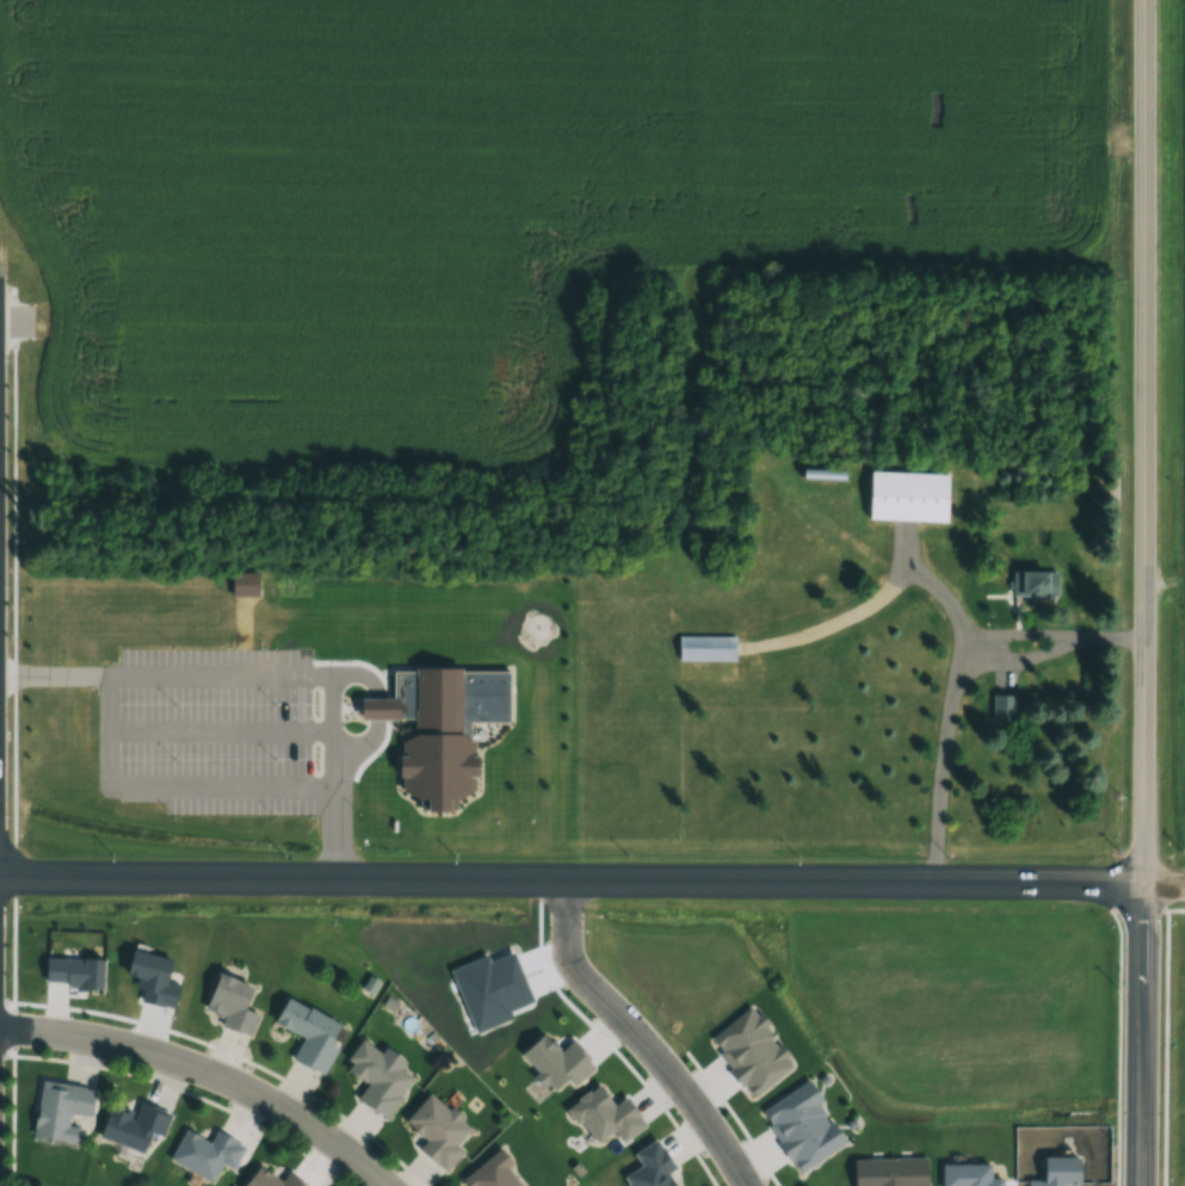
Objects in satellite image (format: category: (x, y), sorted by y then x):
road: (12, 322)
building: (906, 494)
building: (810, 556)
road: (931, 583)
building: (1033, 583)
road: (1143, 593)
road: (1055, 634)
building: (708, 645)
road: (162, 677)
building: (1002, 708)
road: (369, 712)
road: (326, 715)
road: (100, 731)
road: (214, 731)
parking lot: (204, 733)
building: (430, 734)
road: (943, 761)
road: (214, 789)
road: (327, 815)
road: (570, 881)
road: (1164, 884)
road: (1162, 895)
road: (1117, 903)
building: (229, 1002)
building: (308, 1032)
road: (1159, 1034)
road: (641, 1038)
road: (1112, 1040)
road: (209, 1069)
building: (376, 1077)
building: (60, 1110)
building: (131, 1125)
building: (434, 1129)
building: (204, 1153)
building: (490, 1172)
building: (267, 1179)

